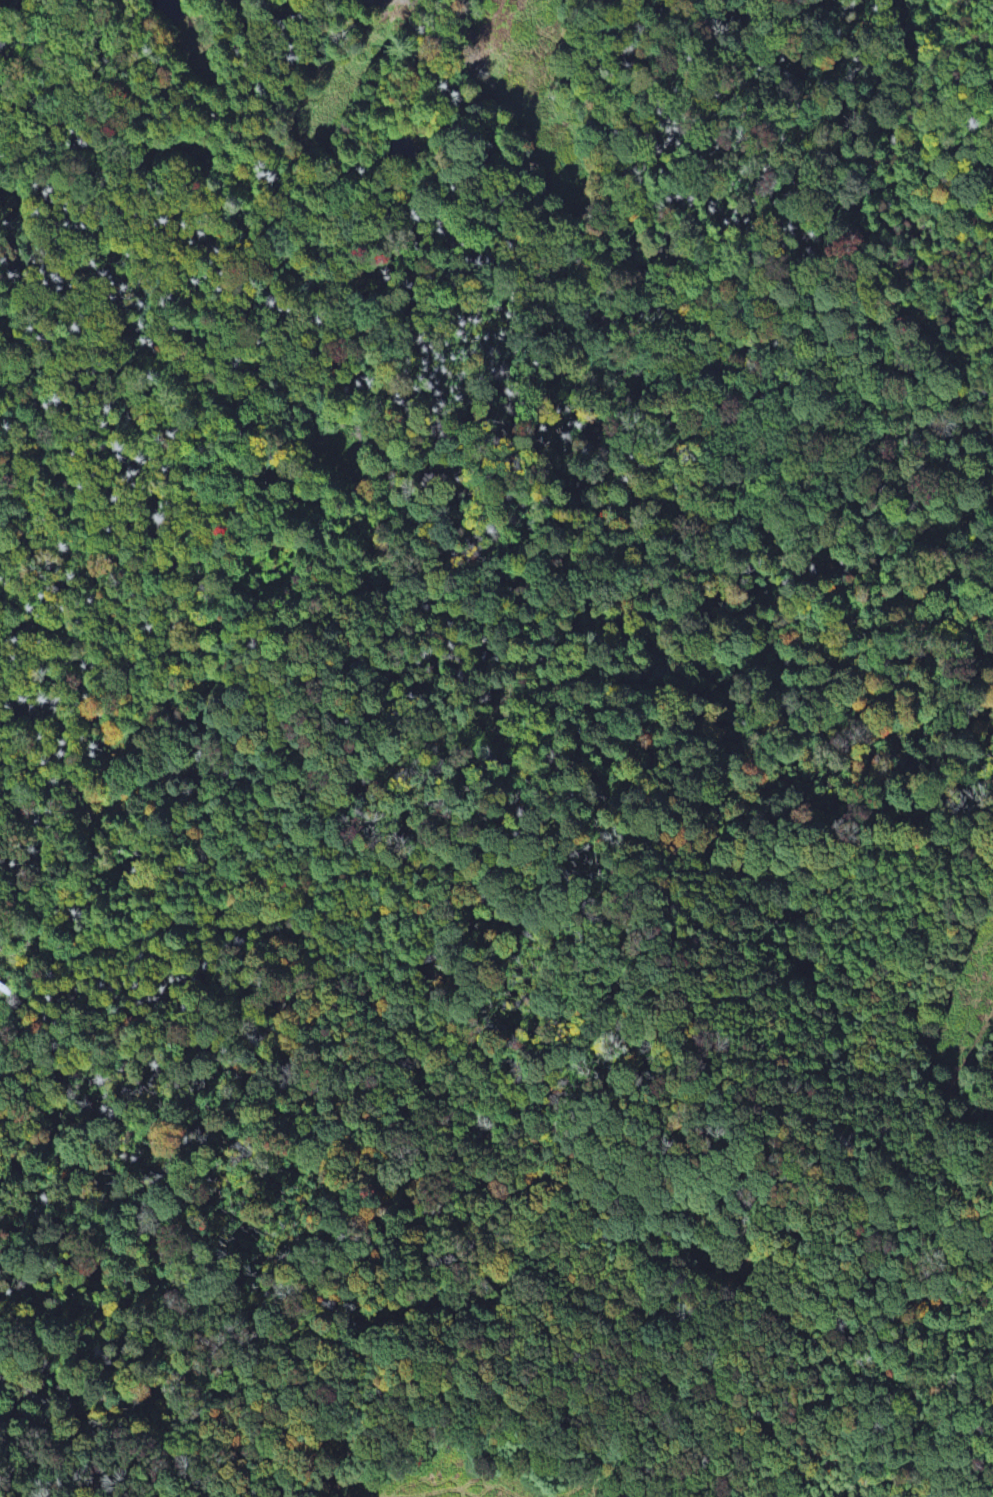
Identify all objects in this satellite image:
road: (2, 960)

